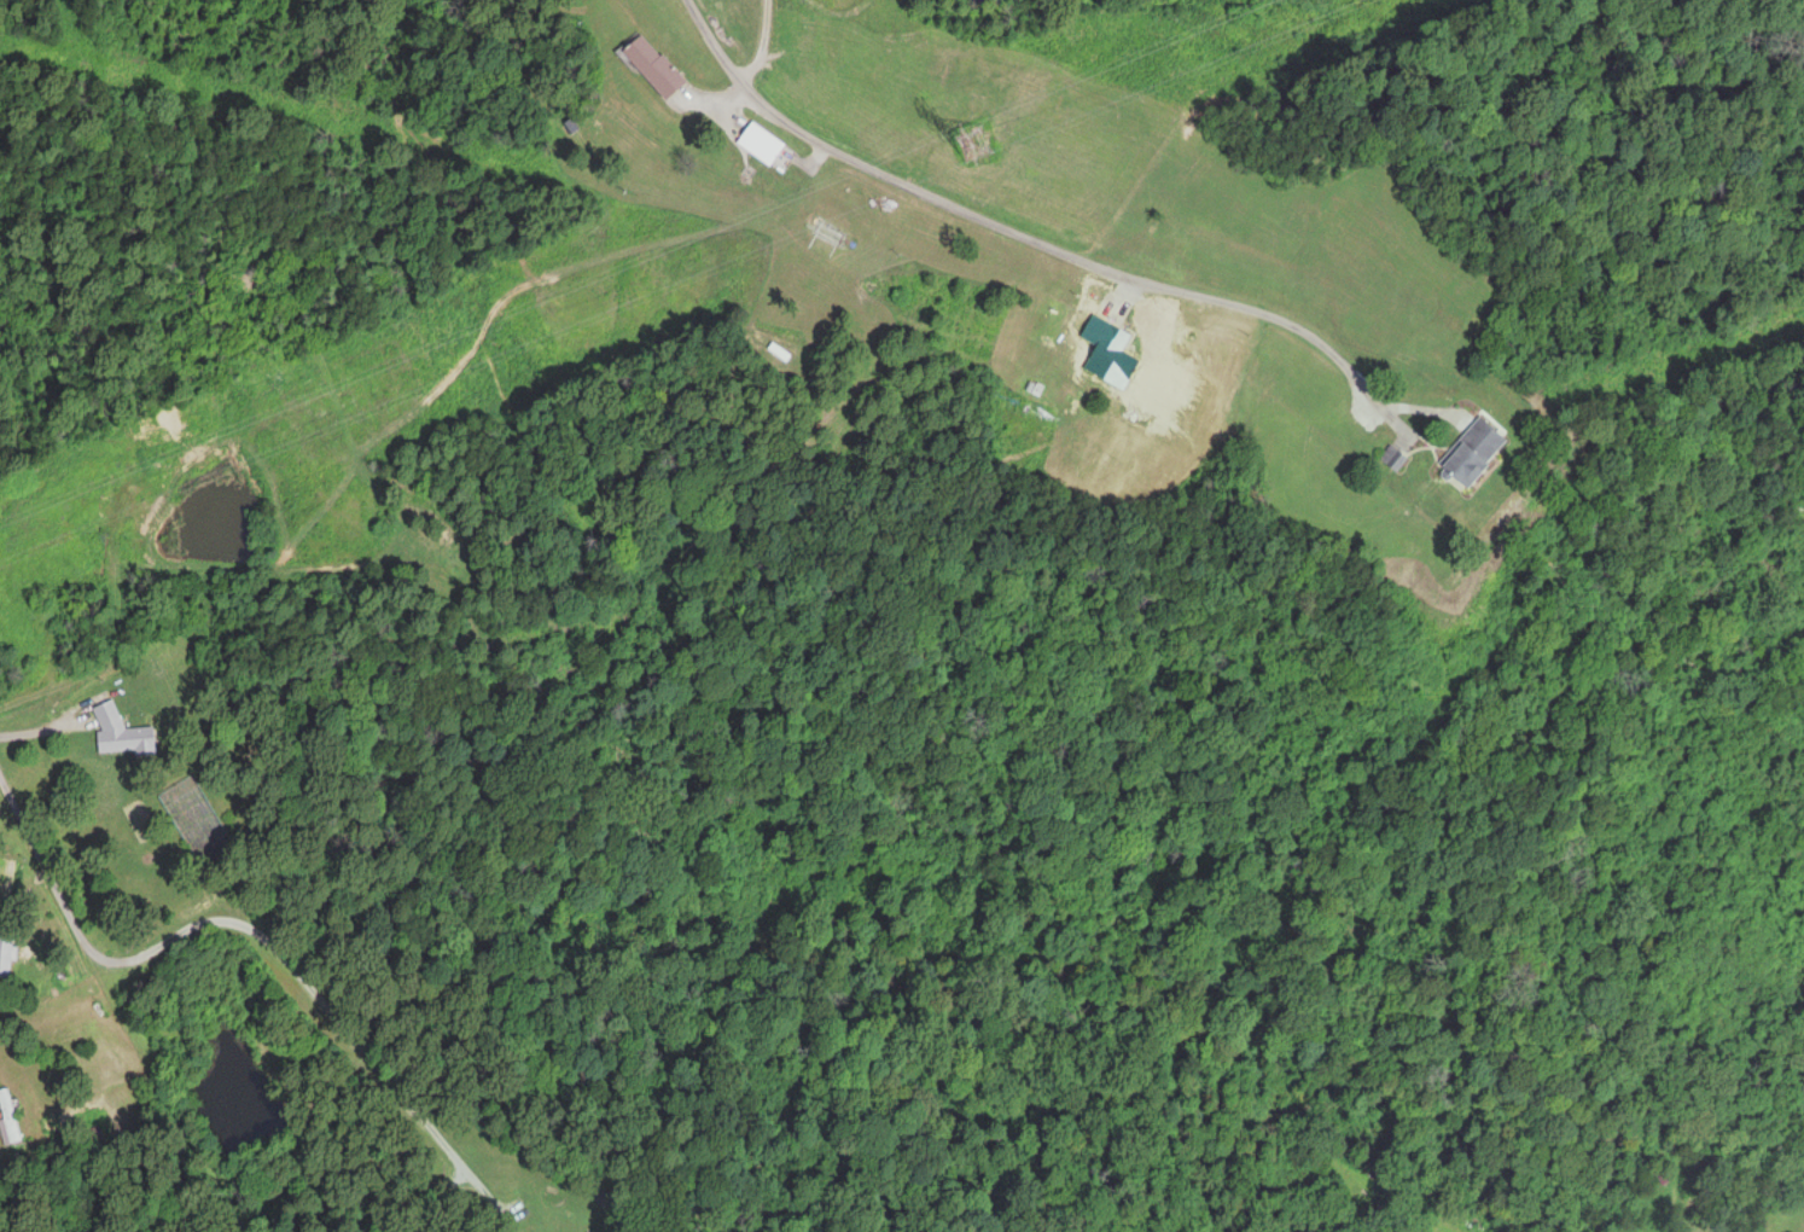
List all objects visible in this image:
road: (691, 11)
building: (650, 68)
power tower: (976, 143)
building: (758, 146)
road: (1017, 237)
building: (1106, 355)
building: (1463, 455)
building: (1390, 461)
road: (41, 728)
building: (120, 733)
road: (256, 931)
building: (5, 963)
building: (8, 1117)

